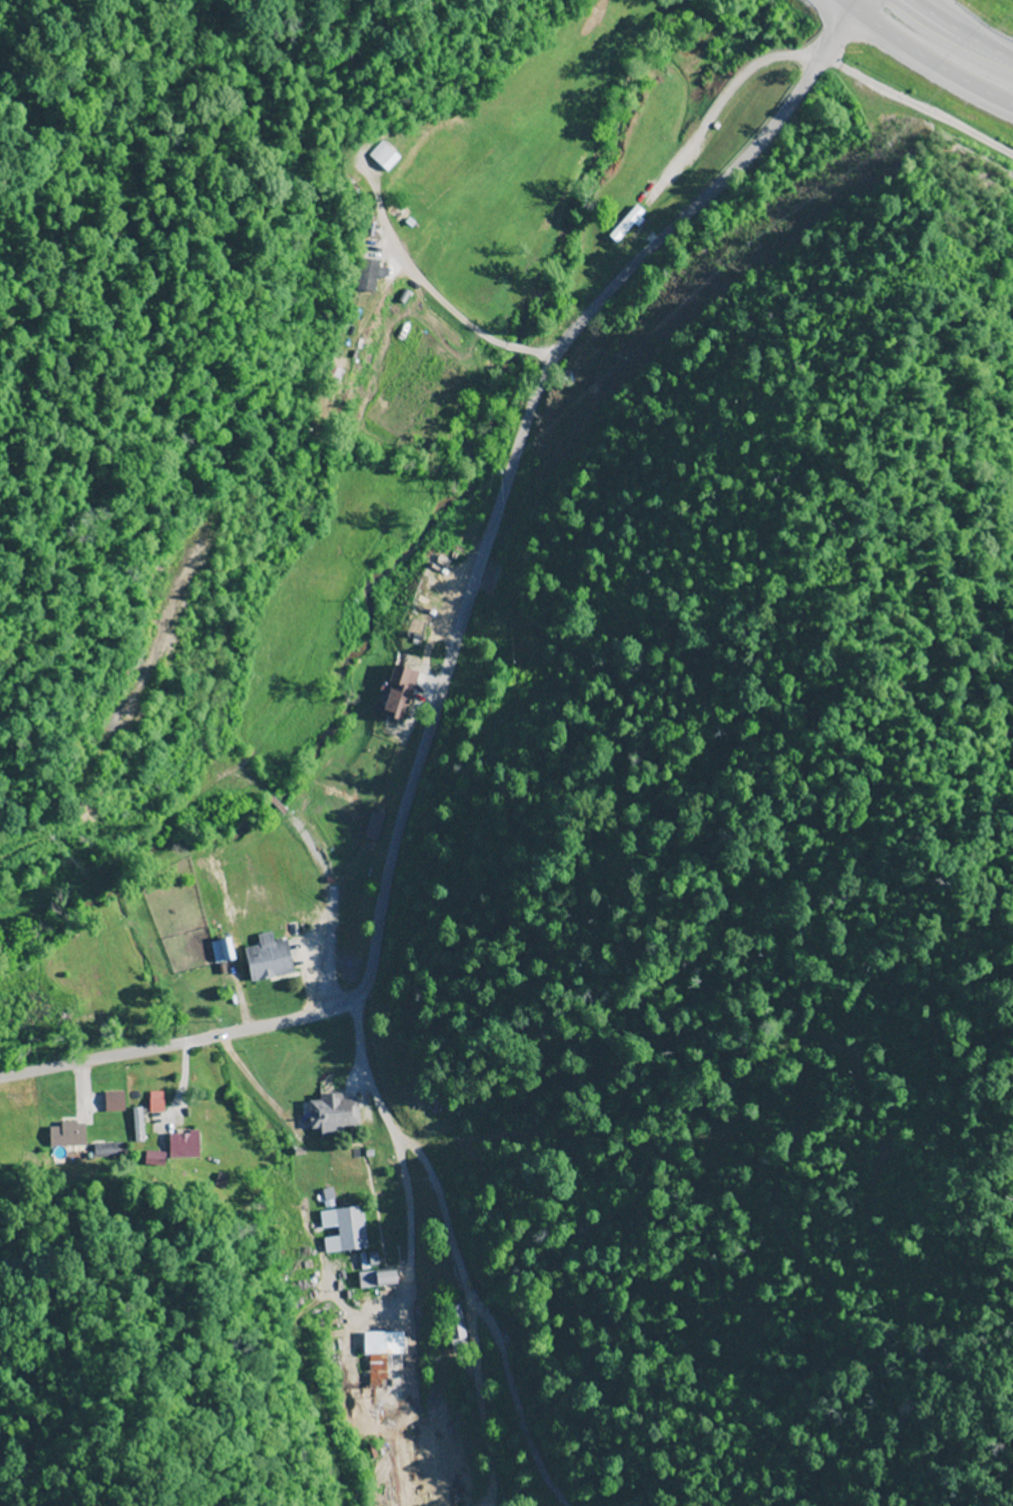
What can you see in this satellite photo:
road: (956, 34)
road: (922, 60)
building: (383, 156)
road: (435, 296)
building: (559, 417)
building: (440, 589)
road: (464, 625)
building: (534, 690)
building: (398, 694)
building: (260, 970)
building: (203, 984)
building: (333, 1114)
building: (137, 1117)
road: (75, 1120)
building: (67, 1136)
building: (184, 1146)
building: (350, 1161)
building: (350, 1229)
building: (377, 1278)
building: (455, 1327)

